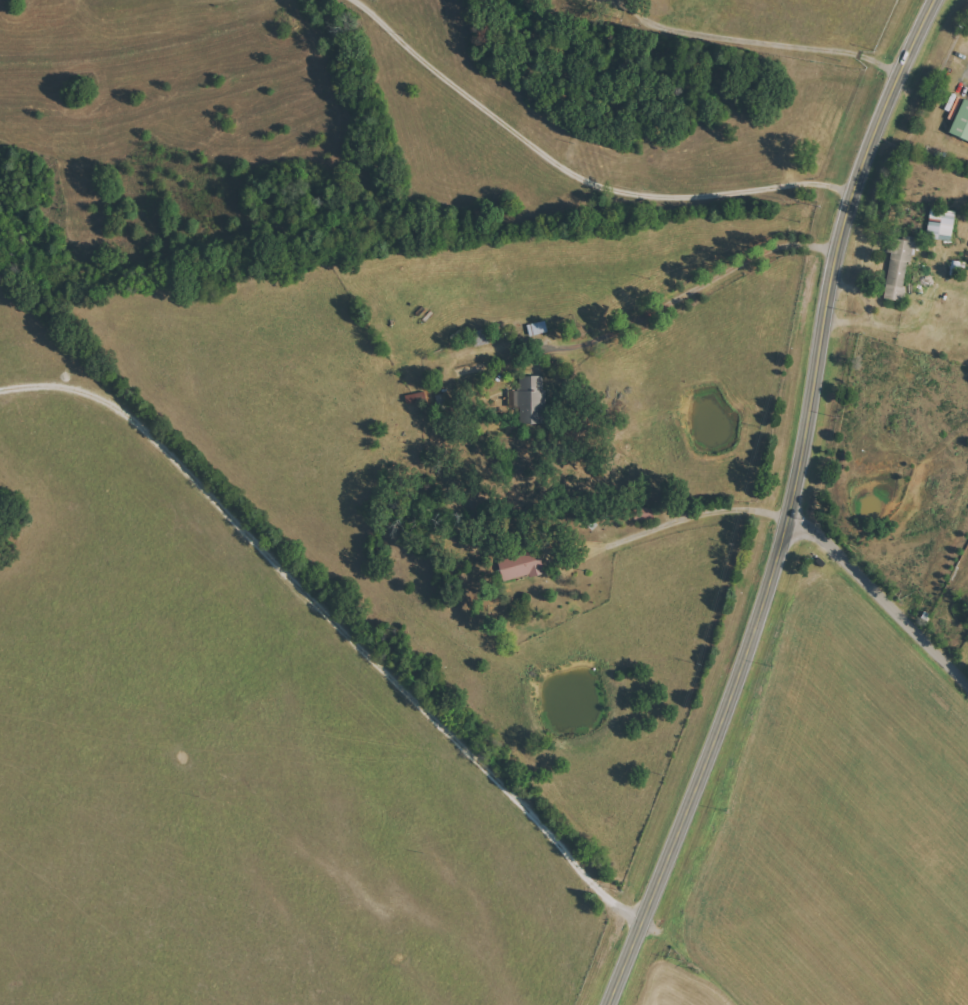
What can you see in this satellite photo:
road: (767, 36)
road: (966, 70)
building: (961, 123)
road: (582, 173)
building: (899, 269)
road: (686, 291)
building: (539, 328)
building: (481, 338)
building: (532, 400)
road: (690, 507)
road: (798, 508)
building: (521, 565)
road: (882, 605)
road: (331, 643)

